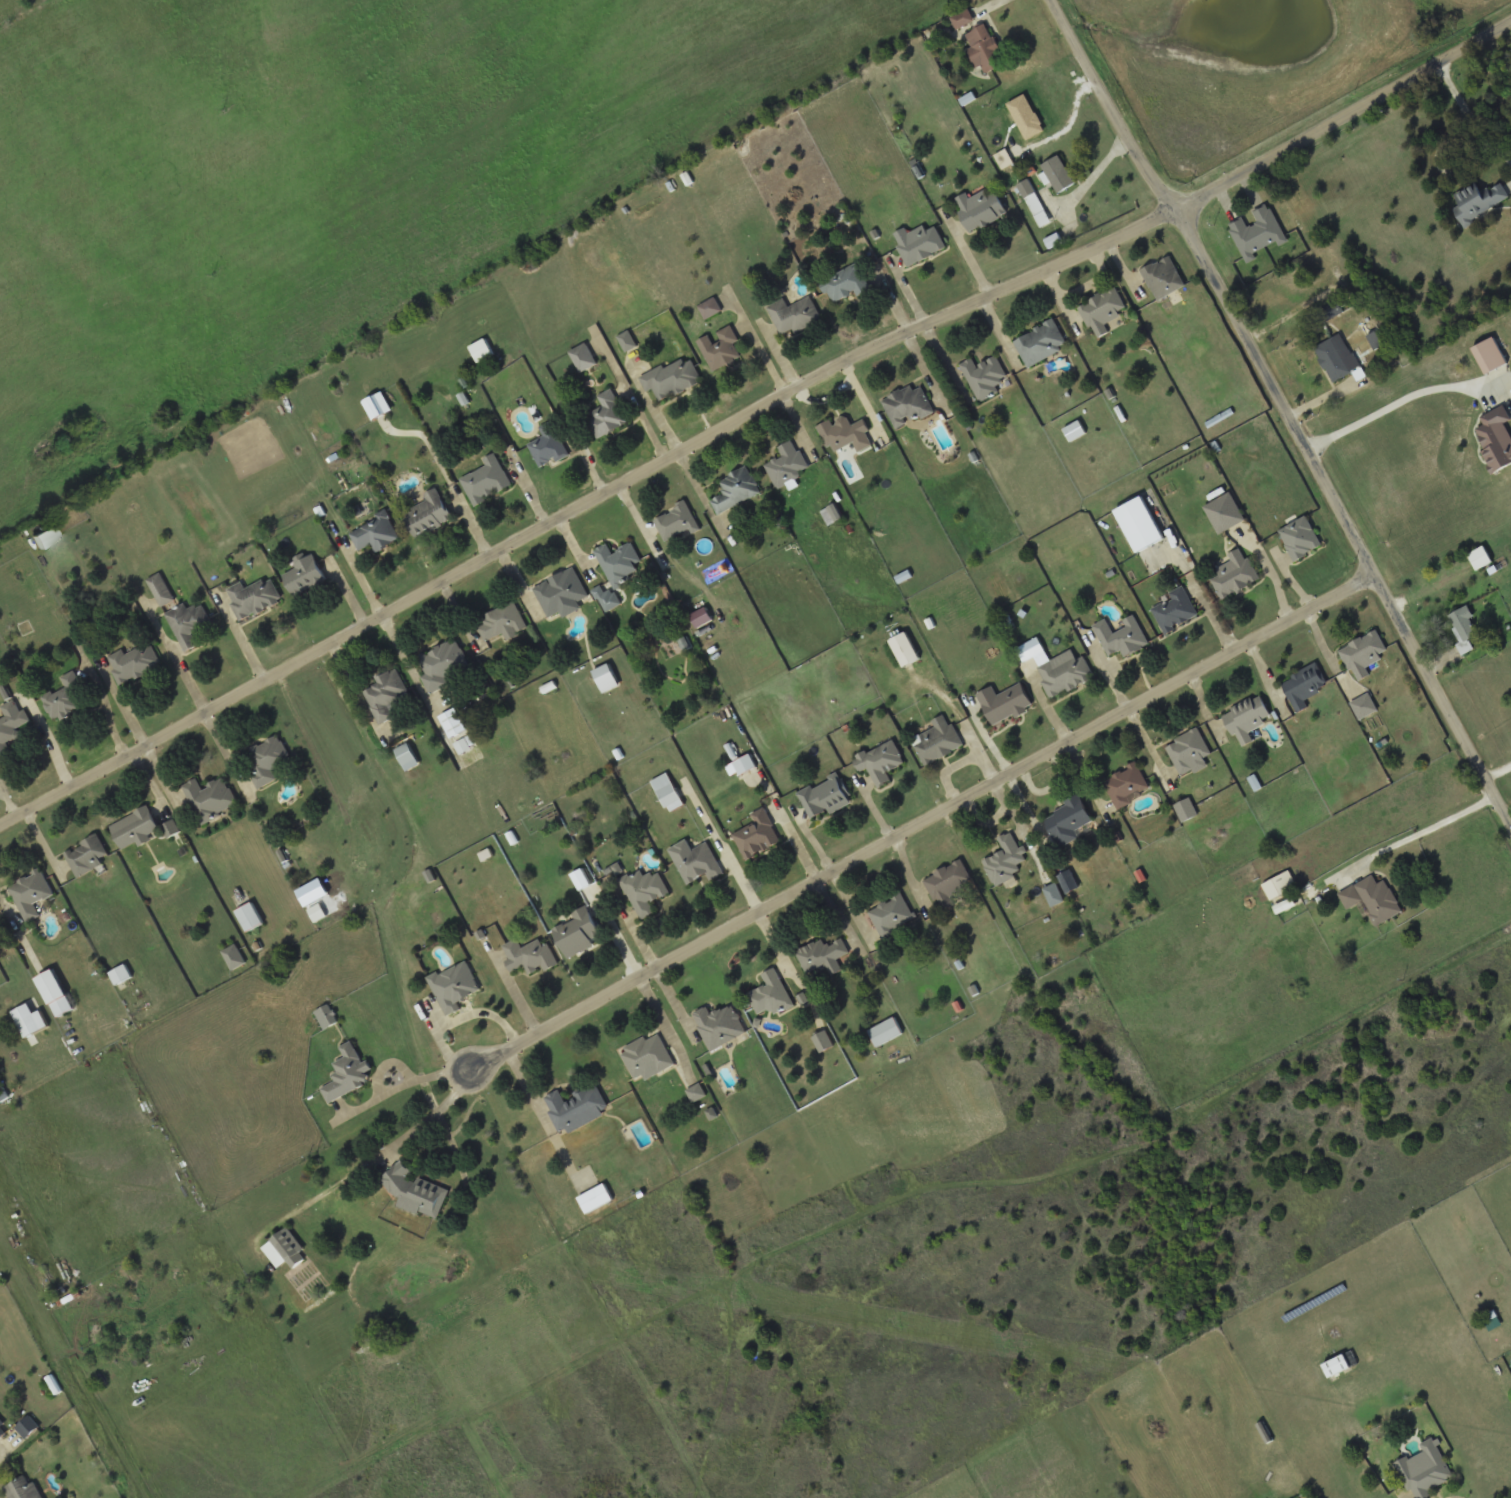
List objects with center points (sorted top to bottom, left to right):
building: (963, 19)
building: (984, 49)
building: (1059, 174)
building: (1479, 201)
building: (1035, 203)
building: (981, 208)
building: (1258, 232)
building: (919, 243)
building: (1164, 277)
building: (846, 283)
building: (711, 307)
building: (1102, 310)
building: (794, 314)
building: (628, 340)
building: (1041, 343)
building: (721, 348)
building: (482, 350)
building: (1490, 355)
building: (1337, 356)
building: (584, 357)
building: (984, 376)
building: (672, 377)
road: (1402, 398)
building: (908, 405)
building: (379, 406)
road: (1286, 412)
road: (750, 414)
building: (607, 415)
building: (1075, 430)
building: (845, 434)
building: (1496, 437)
building: (548, 444)
building: (788, 464)
building: (486, 479)
building: (736, 489)
building: (1225, 512)
building: (429, 514)
building: (676, 522)
building: (1140, 524)
building: (375, 532)
building: (47, 536)
building: (1301, 538)
building: (1480, 557)
building: (619, 563)
building: (1235, 573)
building: (305, 574)
building: (161, 589)
building: (562, 593)
building: (254, 598)
building: (1175, 610)
building: (502, 622)
building: (189, 623)
building: (1465, 627)
building: (1122, 636)
building: (905, 649)
building: (1363, 654)
building: (135, 662)
building: (443, 663)
building: (1065, 673)
building: (607, 677)
building: (1304, 685)
building: (387, 694)
building: (66, 696)
building: (1005, 702)
building: (1364, 705)
building: (1247, 718)
building: (11, 724)
building: (937, 739)
building: (1189, 752)
building: (408, 756)
building: (267, 758)
building: (881, 761)
building: (745, 764)
building: (1127, 785)
building: (667, 790)
building: (825, 797)
building: (210, 798)
building: (1186, 809)
building: (1068, 820)
building: (136, 827)
building: (172, 828)
road: (911, 828)
building: (758, 834)
building: (87, 855)
building: (1005, 860)
building: (699, 864)
building: (949, 883)
building: (1280, 885)
building: (644, 890)
building: (30, 893)
building: (1373, 898)
building: (891, 914)
building: (249, 916)
building: (579, 932)
building: (529, 955)
building: (823, 955)
building: (234, 957)
building: (121, 974)
building: (454, 986)
building: (771, 994)
building: (62, 1006)
building: (327, 1016)
building: (720, 1025)
building: (886, 1031)
building: (823, 1041)
building: (648, 1056)
building: (348, 1072)
building: (576, 1108)
building: (416, 1190)
building: (596, 1198)
building: (285, 1249)
building: (1336, 1365)
building: (3, 1428)
building: (1425, 1469)
building: (23, 1489)

